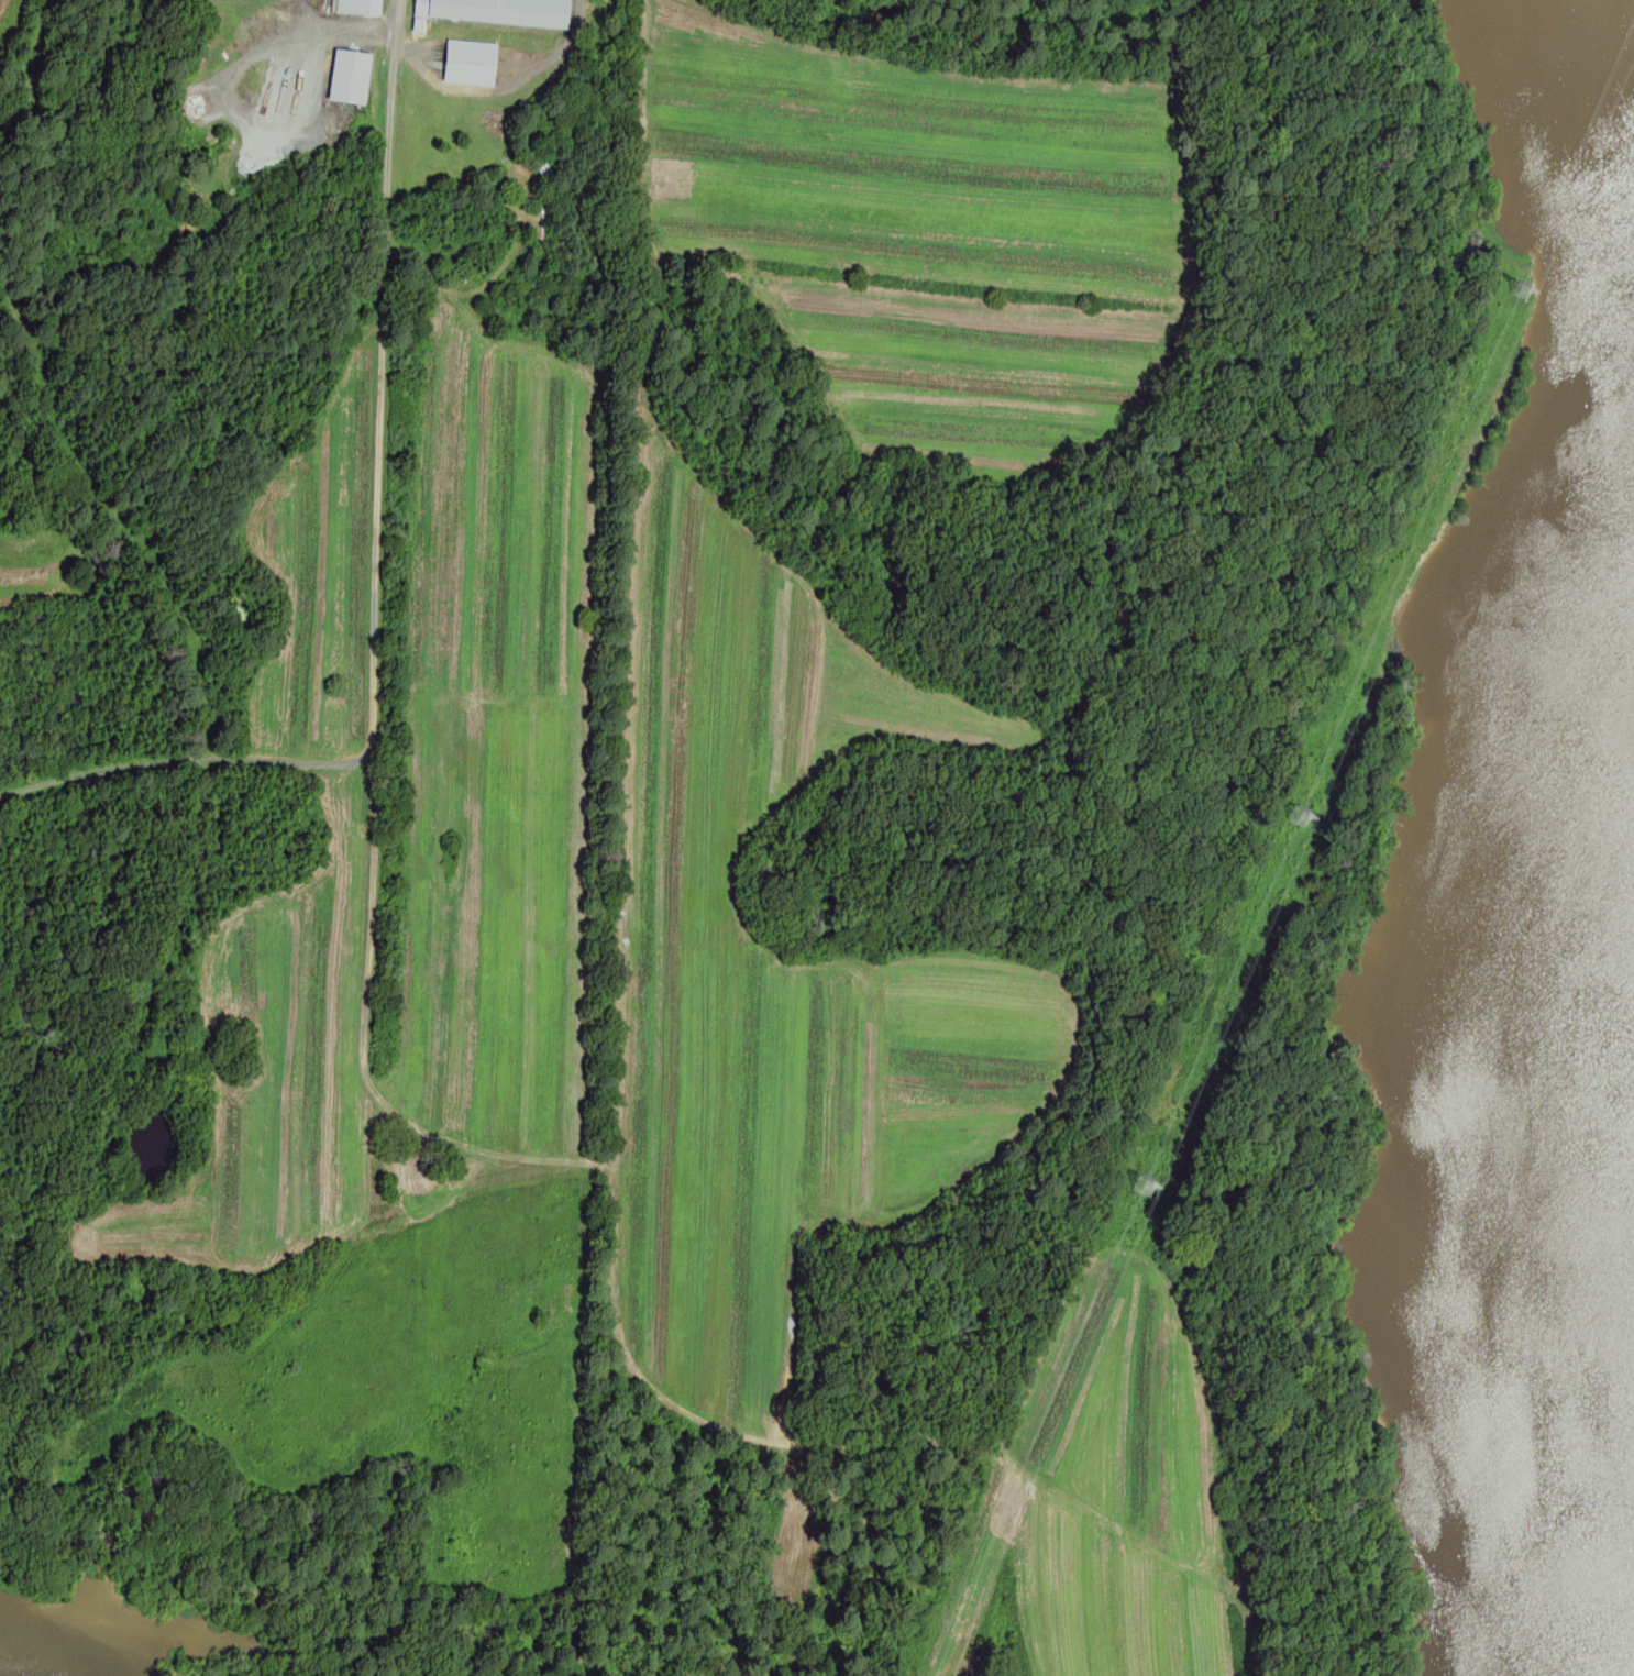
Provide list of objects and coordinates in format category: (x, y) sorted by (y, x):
building: (349, 4)
building: (371, 5)
building: (500, 10)
building: (420, 23)
road: (399, 40)
building: (471, 60)
building: (350, 74)
power tower: (1520, 293)
road: (187, 761)
power tower: (1291, 817)
building: (1299, 819)
road: (419, 1132)
power tower: (1140, 1187)
road: (1293, 1630)
river: (56, 1661)

